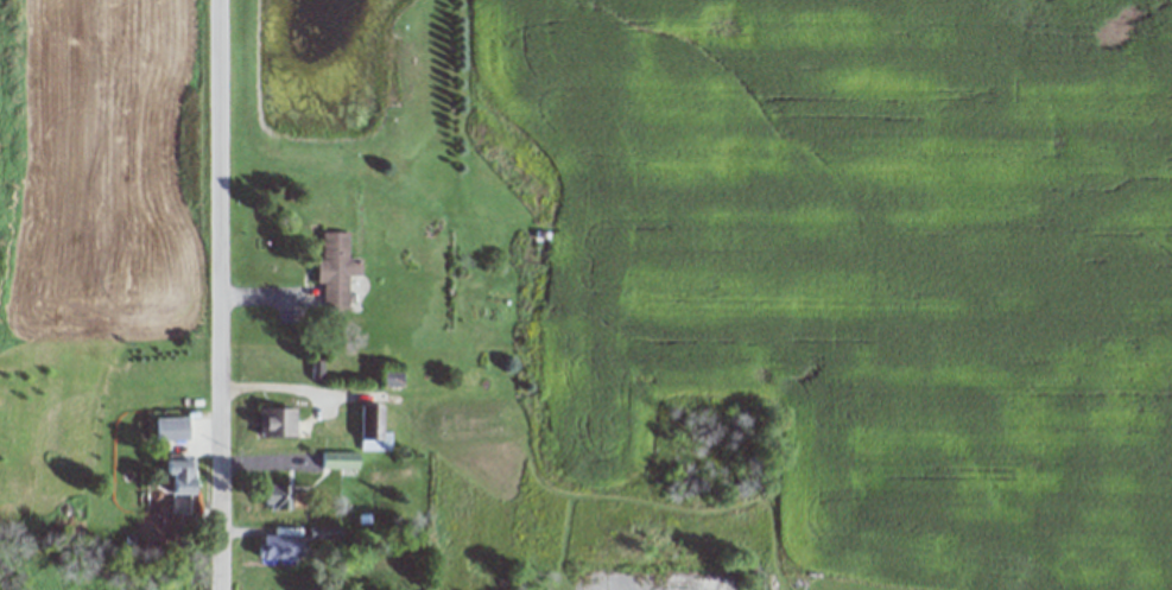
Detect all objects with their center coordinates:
building: (331, 269)
road: (223, 294)
building: (272, 424)
building: (166, 429)
building: (373, 429)
building: (336, 461)
building: (175, 477)
building: (271, 499)
building: (278, 546)

